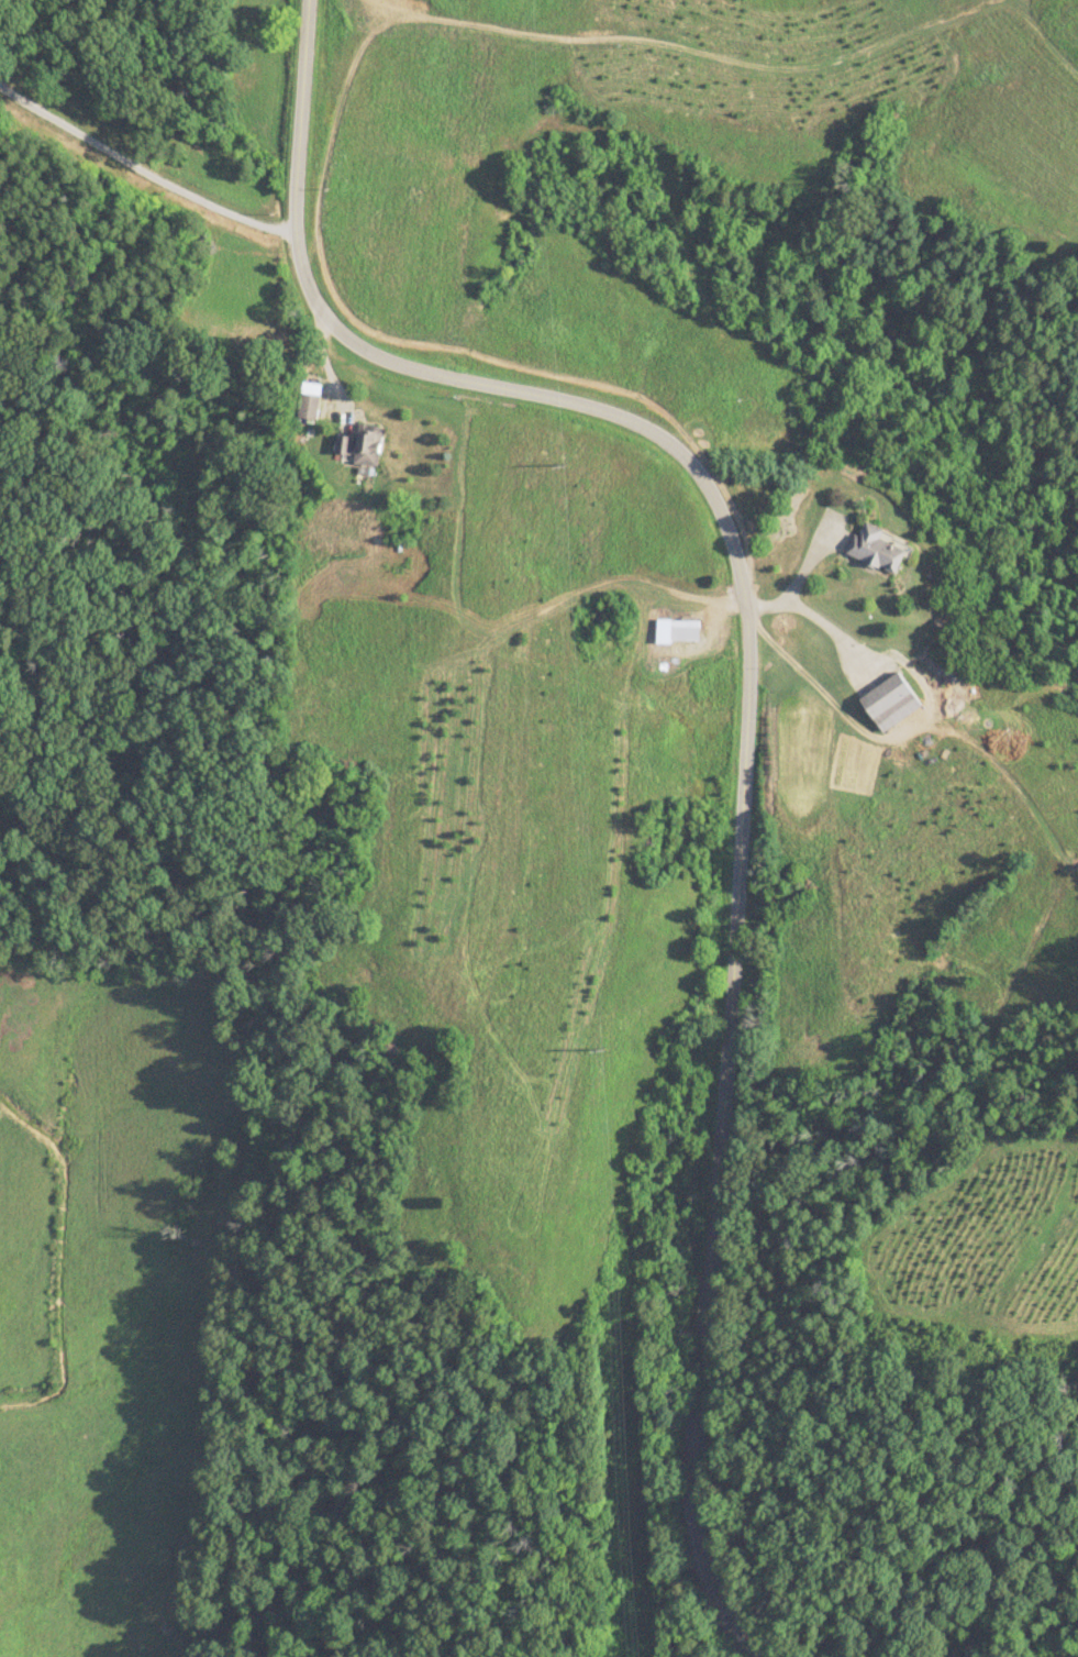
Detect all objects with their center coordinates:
road: (143, 174)
building: (307, 407)
building: (360, 446)
building: (876, 551)
building: (676, 631)
road: (745, 698)
building: (889, 703)
road: (922, 711)
road: (1064, 1653)

